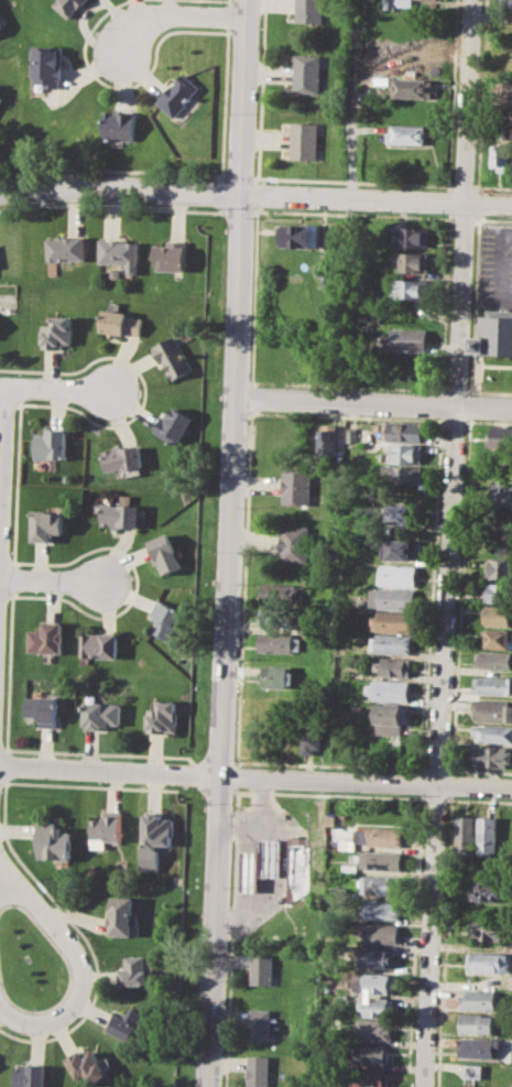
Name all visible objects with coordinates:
building: (426, 0)
building: (386, 3)
building: (402, 3)
building: (506, 3)
building: (69, 6)
building: (309, 10)
road: (177, 15)
road: (482, 17)
building: (1, 24)
building: (47, 66)
building: (305, 73)
building: (410, 88)
building: (179, 93)
road: (246, 96)
building: (119, 124)
building: (407, 134)
road: (351, 137)
building: (304, 140)
building: (502, 156)
road: (264, 177)
road: (460, 185)
road: (491, 186)
road: (138, 188)
road: (17, 189)
road: (377, 198)
building: (295, 235)
building: (412, 236)
building: (67, 248)
building: (121, 252)
building: (171, 254)
building: (412, 260)
parking lot: (495, 264)
road: (501, 267)
building: (408, 289)
road: (473, 289)
building: (122, 323)
building: (58, 331)
building: (495, 331)
building: (407, 339)
building: (174, 356)
building: (403, 369)
road: (490, 391)
road: (57, 392)
road: (373, 403)
road: (468, 405)
road: (453, 421)
road: (467, 421)
building: (174, 424)
building: (402, 430)
building: (350, 434)
building: (500, 436)
building: (326, 439)
building: (51, 444)
building: (404, 452)
building: (122, 458)
building: (400, 475)
building: (296, 485)
road: (3, 486)
building: (502, 493)
building: (396, 514)
building: (122, 515)
building: (47, 524)
road: (447, 543)
building: (294, 544)
building: (397, 547)
building: (165, 553)
building: (499, 568)
building: (396, 575)
road: (460, 575)
road: (51, 583)
road: (242, 587)
building: (499, 591)
building: (280, 593)
building: (392, 597)
building: (498, 615)
building: (279, 617)
building: (166, 618)
building: (393, 621)
building: (45, 638)
building: (498, 638)
road: (226, 640)
building: (277, 642)
building: (392, 643)
building: (99, 644)
building: (493, 659)
building: (393, 665)
building: (277, 675)
building: (493, 684)
building: (388, 688)
building: (42, 708)
building: (493, 709)
building: (100, 714)
building: (162, 716)
building: (389, 719)
building: (493, 733)
building: (312, 736)
building: (491, 756)
road: (437, 769)
road: (479, 770)
road: (255, 775)
road: (450, 784)
building: (330, 819)
building: (105, 826)
road: (238, 826)
building: (466, 835)
building: (489, 835)
building: (381, 836)
building: (155, 838)
building: (52, 839)
building: (270, 856)
gas station: (270, 856)
building: (381, 860)
road: (258, 863)
building: (295, 869)
building: (347, 869)
building: (249, 870)
gas station: (249, 870)
building: (381, 884)
building: (490, 890)
building: (336, 891)
building: (381, 909)
building: (120, 914)
building: (488, 927)
building: (379, 932)
road: (444, 941)
building: (378, 958)
building: (490, 961)
building: (261, 968)
building: (134, 970)
road: (79, 976)
building: (377, 982)
building: (480, 999)
building: (377, 1006)
building: (126, 1022)
building: (478, 1022)
building: (259, 1024)
building: (373, 1029)
building: (479, 1046)
building: (370, 1054)
building: (85, 1064)
building: (258, 1069)
building: (472, 1070)
building: (29, 1076)
building: (370, 1077)
building: (468, 1085)

